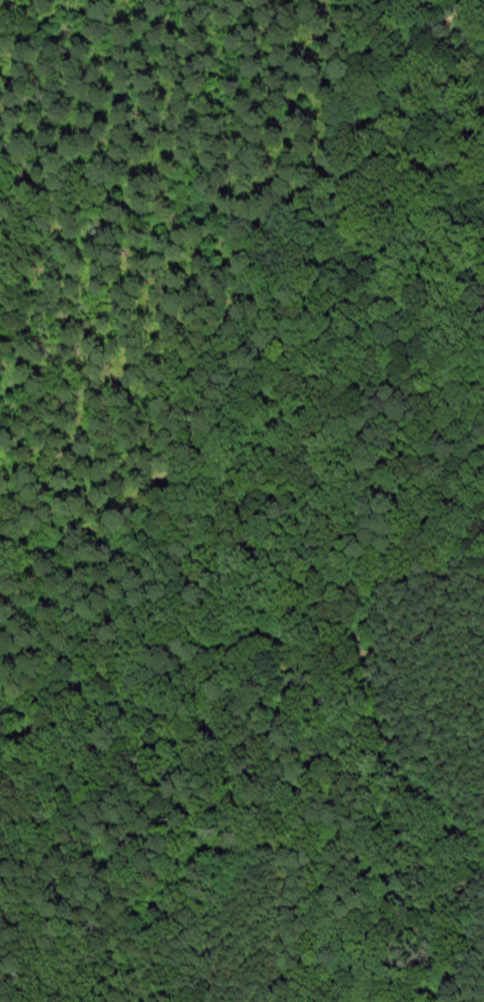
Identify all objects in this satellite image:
road: (363, 197)

